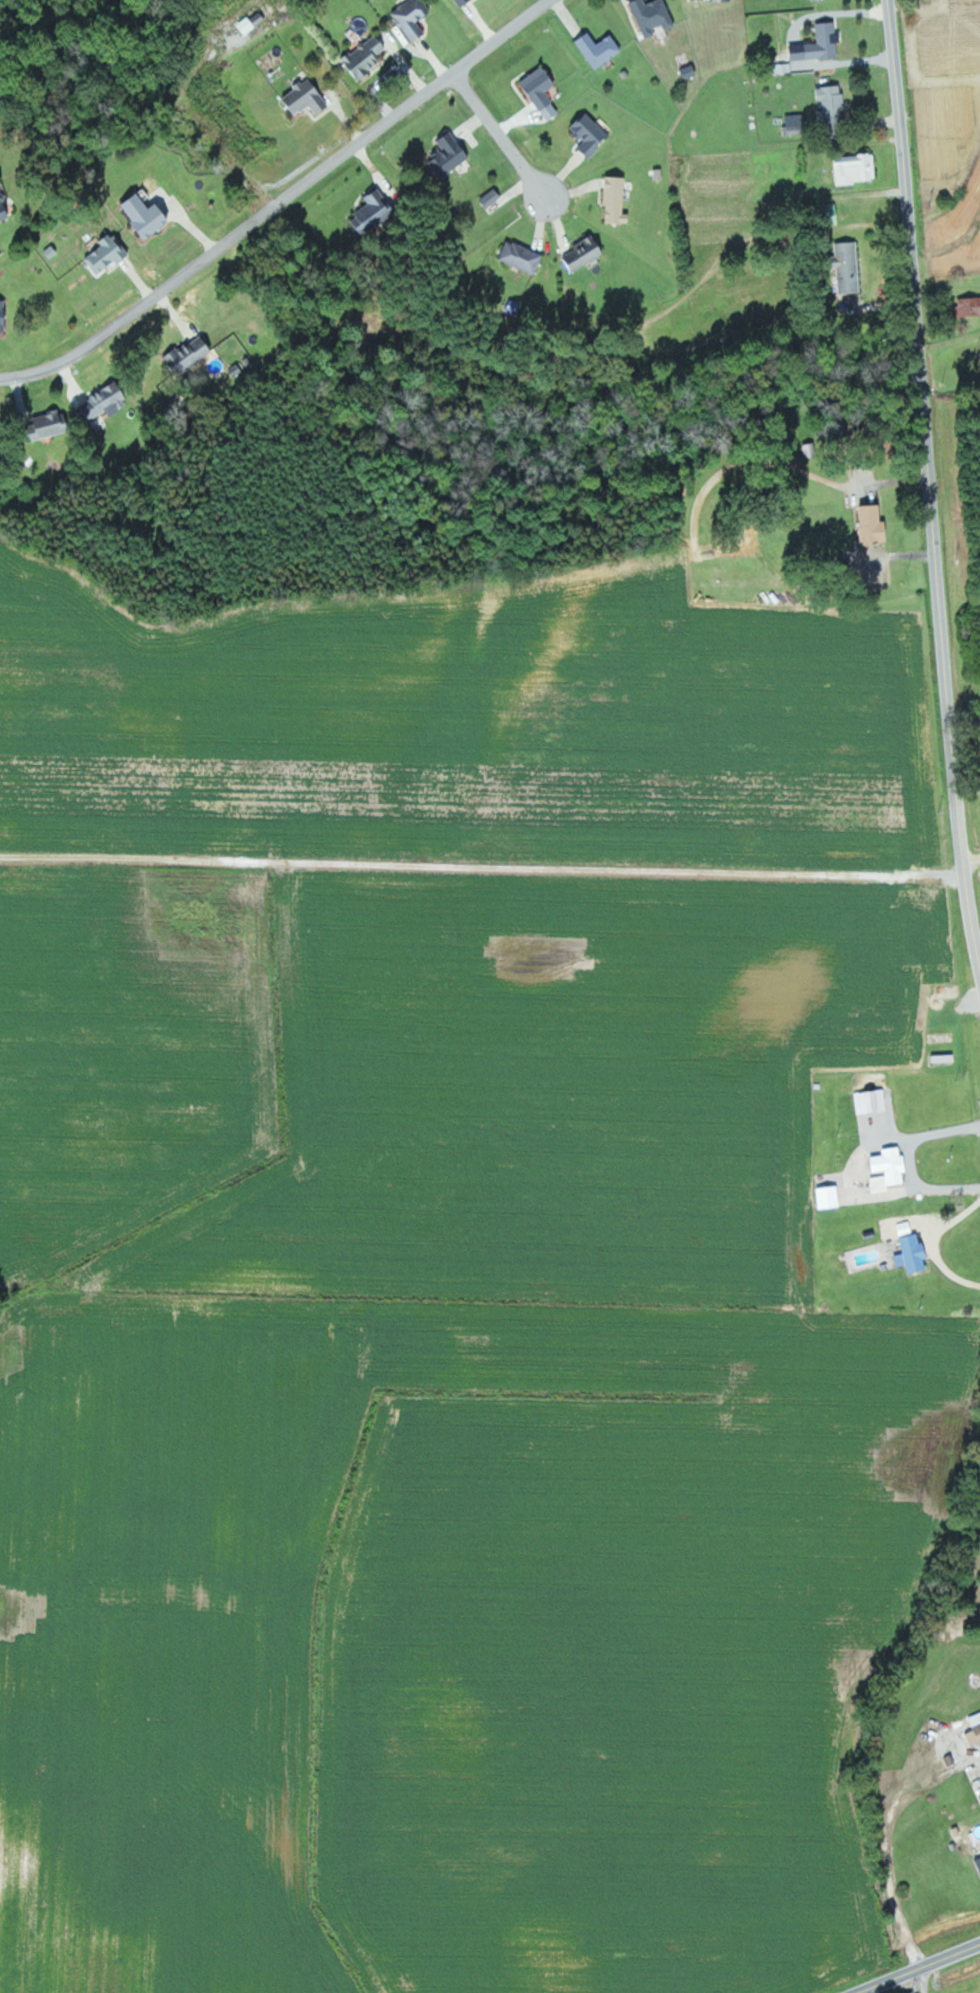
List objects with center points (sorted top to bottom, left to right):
building: (726, 0)
building: (461, 1)
building: (653, 15)
building: (413, 17)
building: (253, 21)
building: (819, 44)
building: (599, 48)
building: (369, 55)
road: (843, 61)
building: (541, 86)
building: (307, 97)
building: (833, 104)
building: (795, 124)
road: (504, 132)
building: (590, 133)
building: (450, 153)
building: (857, 168)
building: (492, 197)
building: (617, 199)
road: (282, 200)
building: (3, 204)
building: (374, 211)
building: (147, 214)
building: (585, 251)
building: (107, 254)
building: (522, 256)
building: (849, 266)
building: (969, 306)
building: (4, 314)
building: (188, 354)
building: (106, 401)
building: (52, 423)
road: (929, 474)
building: (874, 524)
road: (978, 957)
building: (872, 1101)
building: (889, 1169)
building: (830, 1197)
building: (913, 1254)
building: (975, 1730)
building: (978, 1861)
road: (918, 1968)
road: (922, 1980)

